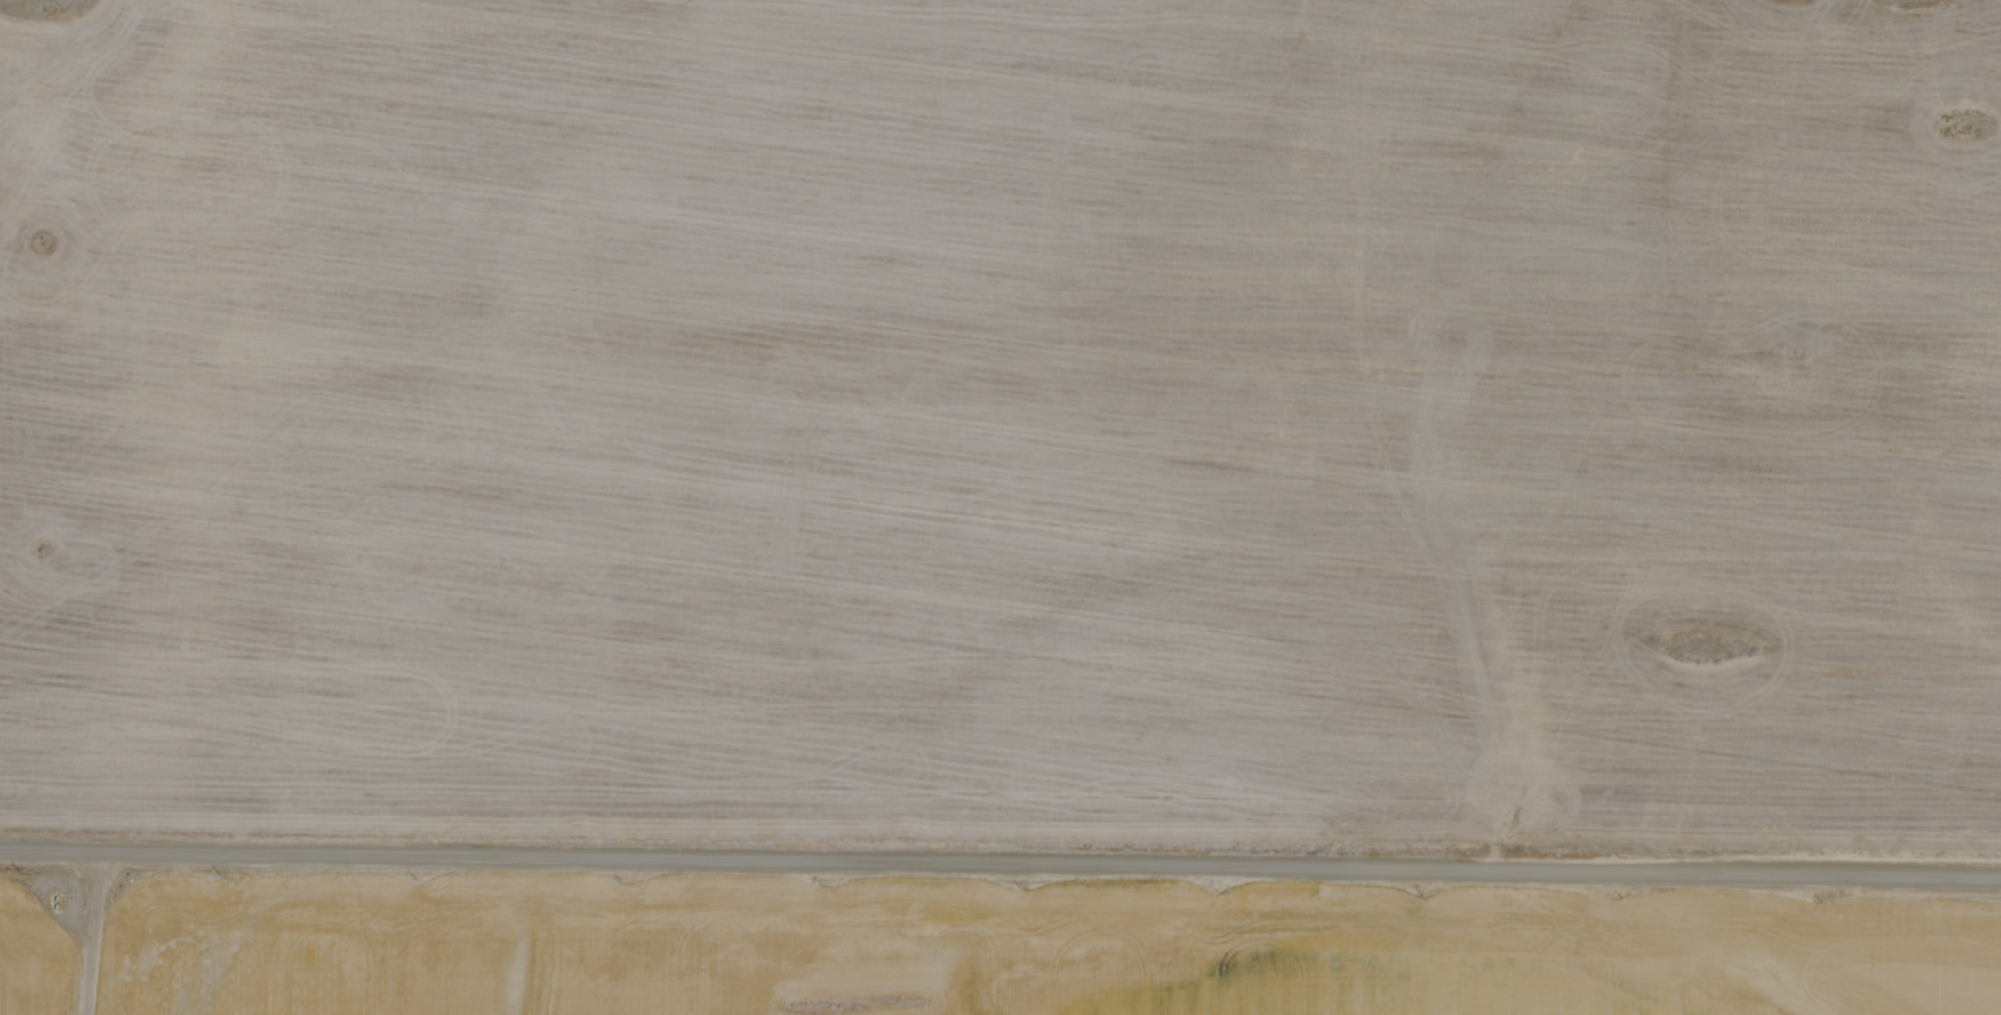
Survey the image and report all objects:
road: (1000, 860)
road: (91, 931)

